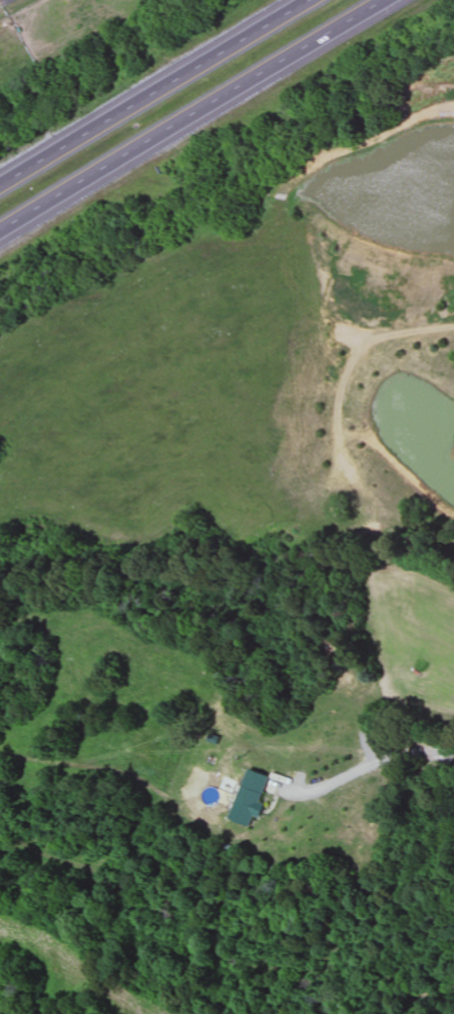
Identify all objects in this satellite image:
road: (8, 0)
road: (155, 94)
road: (193, 116)
road: (362, 770)

